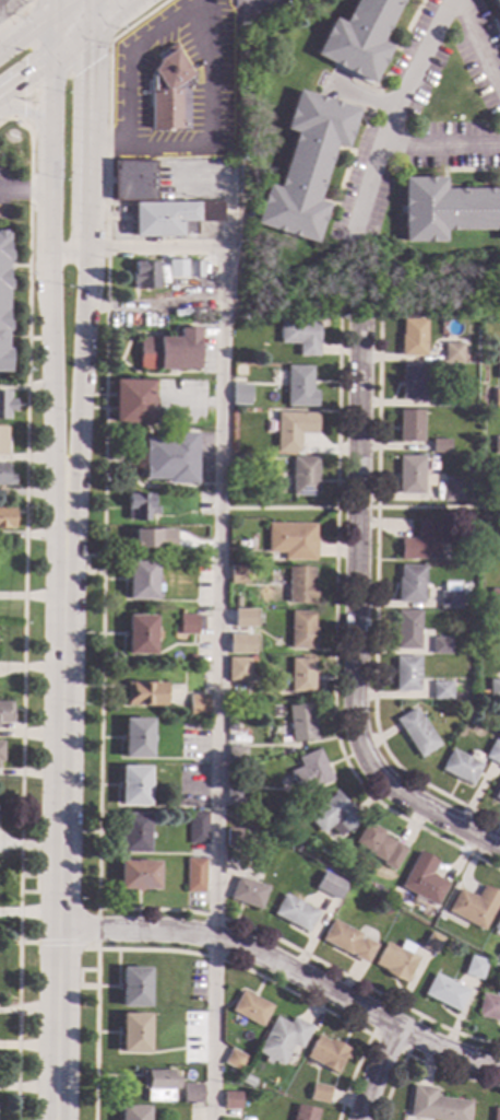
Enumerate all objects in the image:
road: (52, 3)
parking lot: (9, 7)
building: (496, 7)
road: (19, 14)
road: (116, 19)
road: (5, 21)
road: (29, 22)
building: (358, 38)
road: (476, 47)
road: (32, 48)
road: (127, 56)
road: (87, 59)
traffic signals: (90, 63)
road: (45, 70)
road: (333, 83)
traffic signals: (23, 87)
building: (168, 92)
road: (51, 97)
road: (364, 97)
road: (28, 117)
road: (31, 117)
road: (392, 120)
road: (88, 124)
road: (204, 131)
building: (305, 166)
building: (133, 180)
road: (369, 182)
road: (25, 188)
road: (224, 205)
building: (445, 210)
road: (50, 218)
building: (172, 218)
road: (69, 247)
road: (16, 266)
building: (175, 268)
building: (194, 269)
building: (144, 276)
building: (2, 303)
building: (300, 337)
road: (15, 338)
building: (413, 338)
building: (169, 351)
building: (452, 352)
building: (498, 353)
road: (50, 371)
road: (82, 372)
building: (413, 383)
building: (299, 387)
building: (240, 395)
building: (496, 398)
building: (131, 400)
building: (441, 401)
road: (190, 404)
building: (5, 405)
building: (409, 425)
building: (294, 430)
building: (1, 440)
building: (439, 446)
building: (497, 446)
building: (168, 458)
building: (241, 466)
building: (412, 476)
building: (5, 477)
building: (305, 477)
building: (238, 485)
building: (466, 486)
building: (451, 490)
building: (138, 507)
road: (358, 510)
building: (163, 511)
building: (7, 518)
building: (151, 539)
building: (293, 541)
building: (421, 542)
building: (240, 545)
building: (498, 552)
building: (202, 558)
road: (356, 559)
building: (238, 575)
building: (140, 580)
building: (300, 585)
building: (409, 585)
building: (449, 596)
building: (495, 597)
building: (236, 602)
road: (374, 606)
road: (23, 608)
road: (216, 616)
building: (237, 620)
building: (187, 625)
building: (406, 630)
building: (302, 631)
building: (140, 634)
building: (239, 643)
road: (333, 643)
building: (498, 644)
building: (439, 645)
road: (100, 656)
building: (237, 669)
building: (405, 674)
building: (301, 676)
building: (493, 689)
building: (440, 690)
building: (144, 695)
building: (197, 705)
building: (5, 712)
building: (197, 719)
building: (301, 723)
building: (416, 733)
building: (136, 738)
building: (0, 750)
building: (493, 752)
building: (235, 755)
building: (460, 767)
building: (310, 771)
building: (133, 786)
building: (497, 795)
building: (235, 796)
road: (60, 807)
building: (334, 814)
road: (441, 817)
building: (197, 828)
building: (133, 833)
building: (233, 838)
building: (379, 847)
building: (337, 859)
building: (193, 875)
building: (138, 876)
building: (422, 882)
building: (331, 891)
building: (247, 894)
building: (474, 907)
building: (385, 911)
building: (295, 913)
building: (497, 924)
road: (96, 929)
road: (58, 942)
building: (346, 942)
building: (430, 944)
road: (201, 955)
building: (395, 960)
road: (287, 968)
building: (474, 968)
building: (133, 987)
building: (444, 993)
building: (488, 1007)
building: (249, 1008)
building: (133, 1034)
building: (282, 1039)
building: (326, 1053)
road: (404, 1054)
building: (234, 1060)
road: (418, 1061)
road: (373, 1071)
building: (247, 1081)
building: (159, 1085)
building: (319, 1094)
building: (188, 1096)
building: (230, 1101)
building: (434, 1106)
building: (132, 1112)
building: (303, 1112)
building: (496, 1115)

